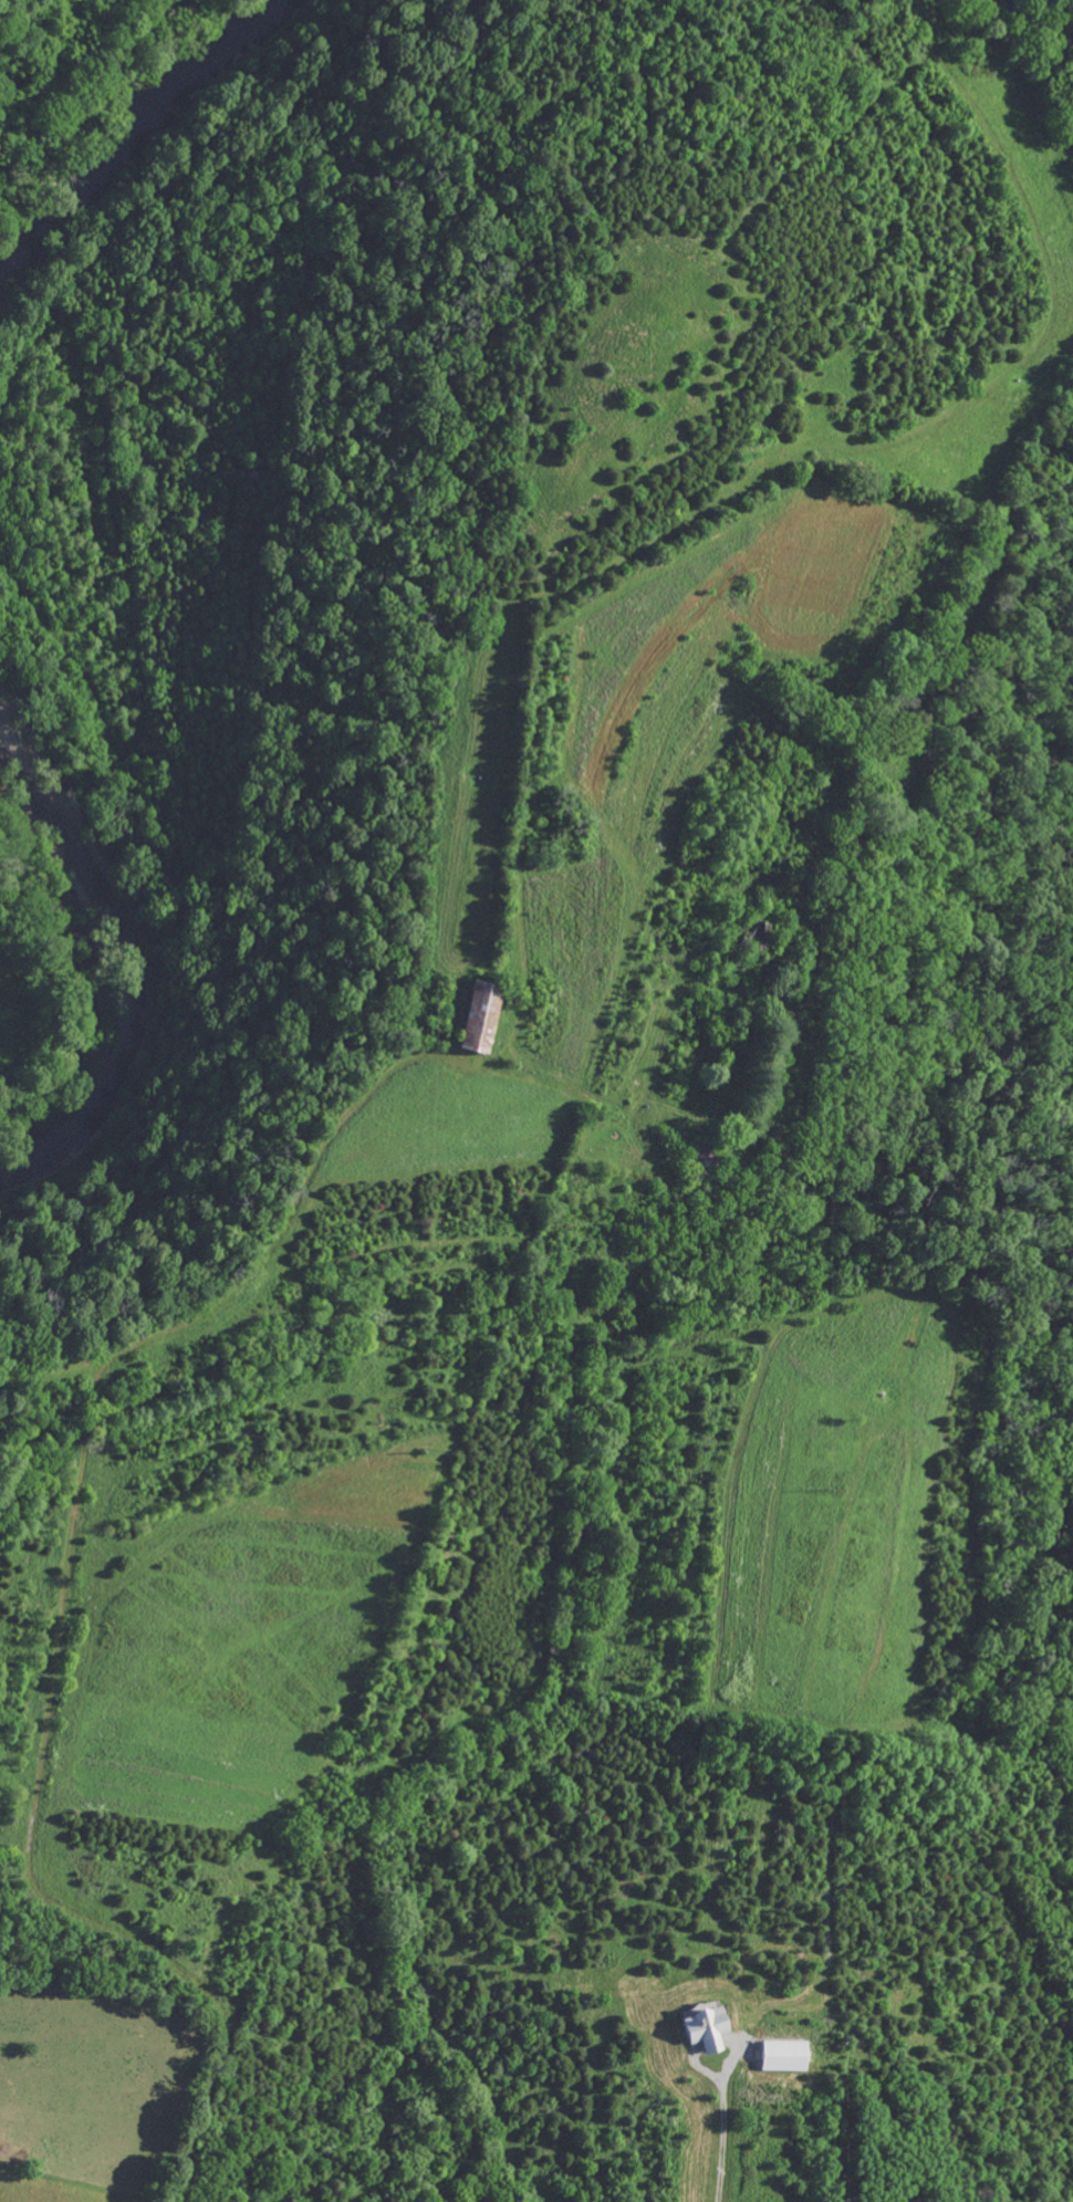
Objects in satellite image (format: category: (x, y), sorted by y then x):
river: (132, 123)
river: (121, 966)
building: (486, 1017)
building: (709, 2028)
building: (788, 2056)
road: (722, 2126)

